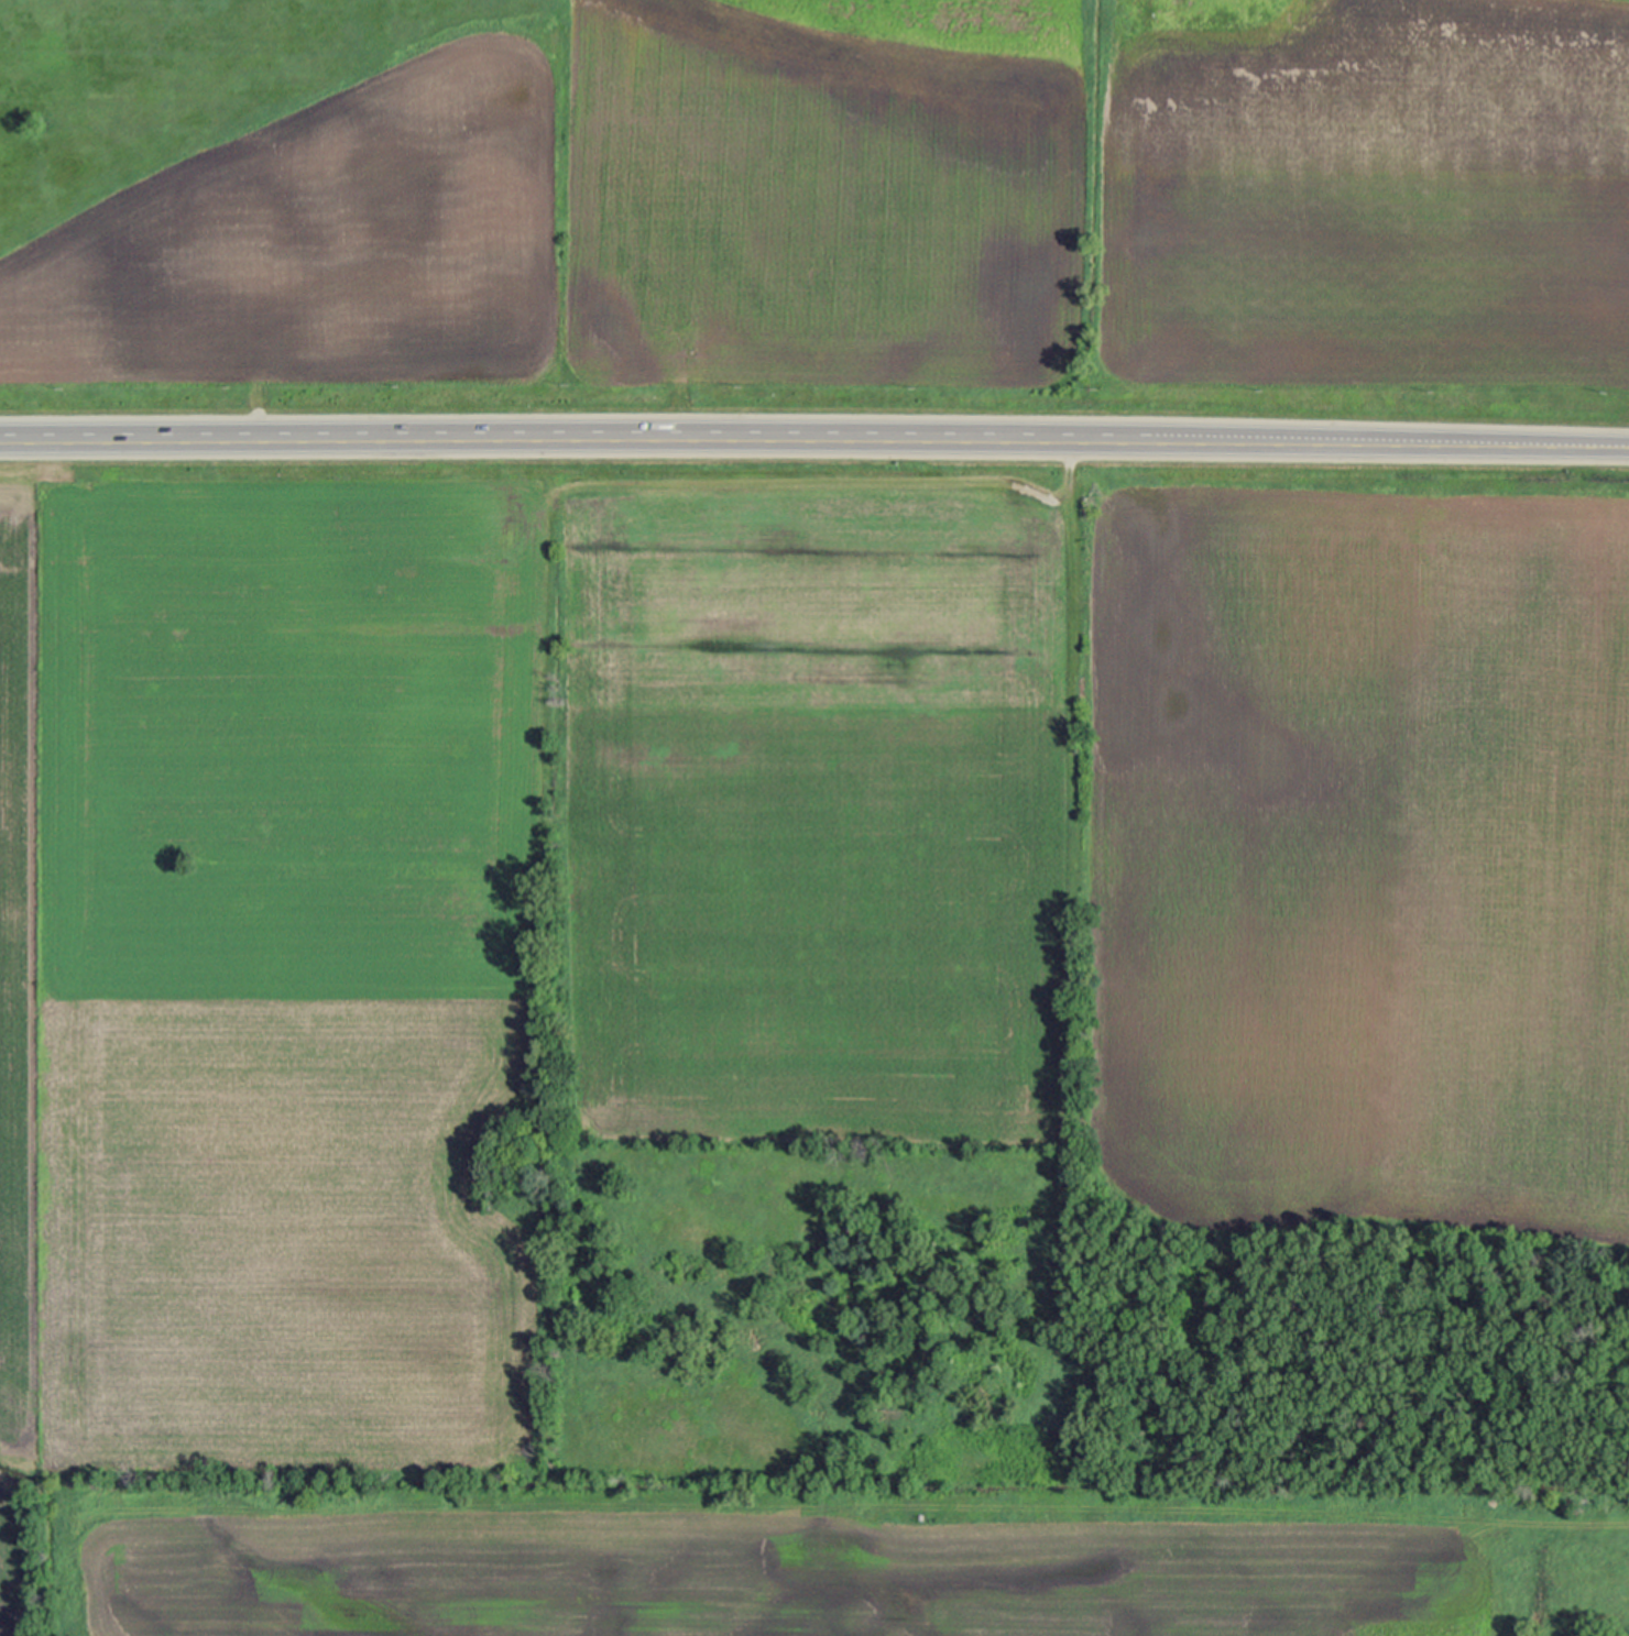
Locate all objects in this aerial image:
road: (814, 443)

